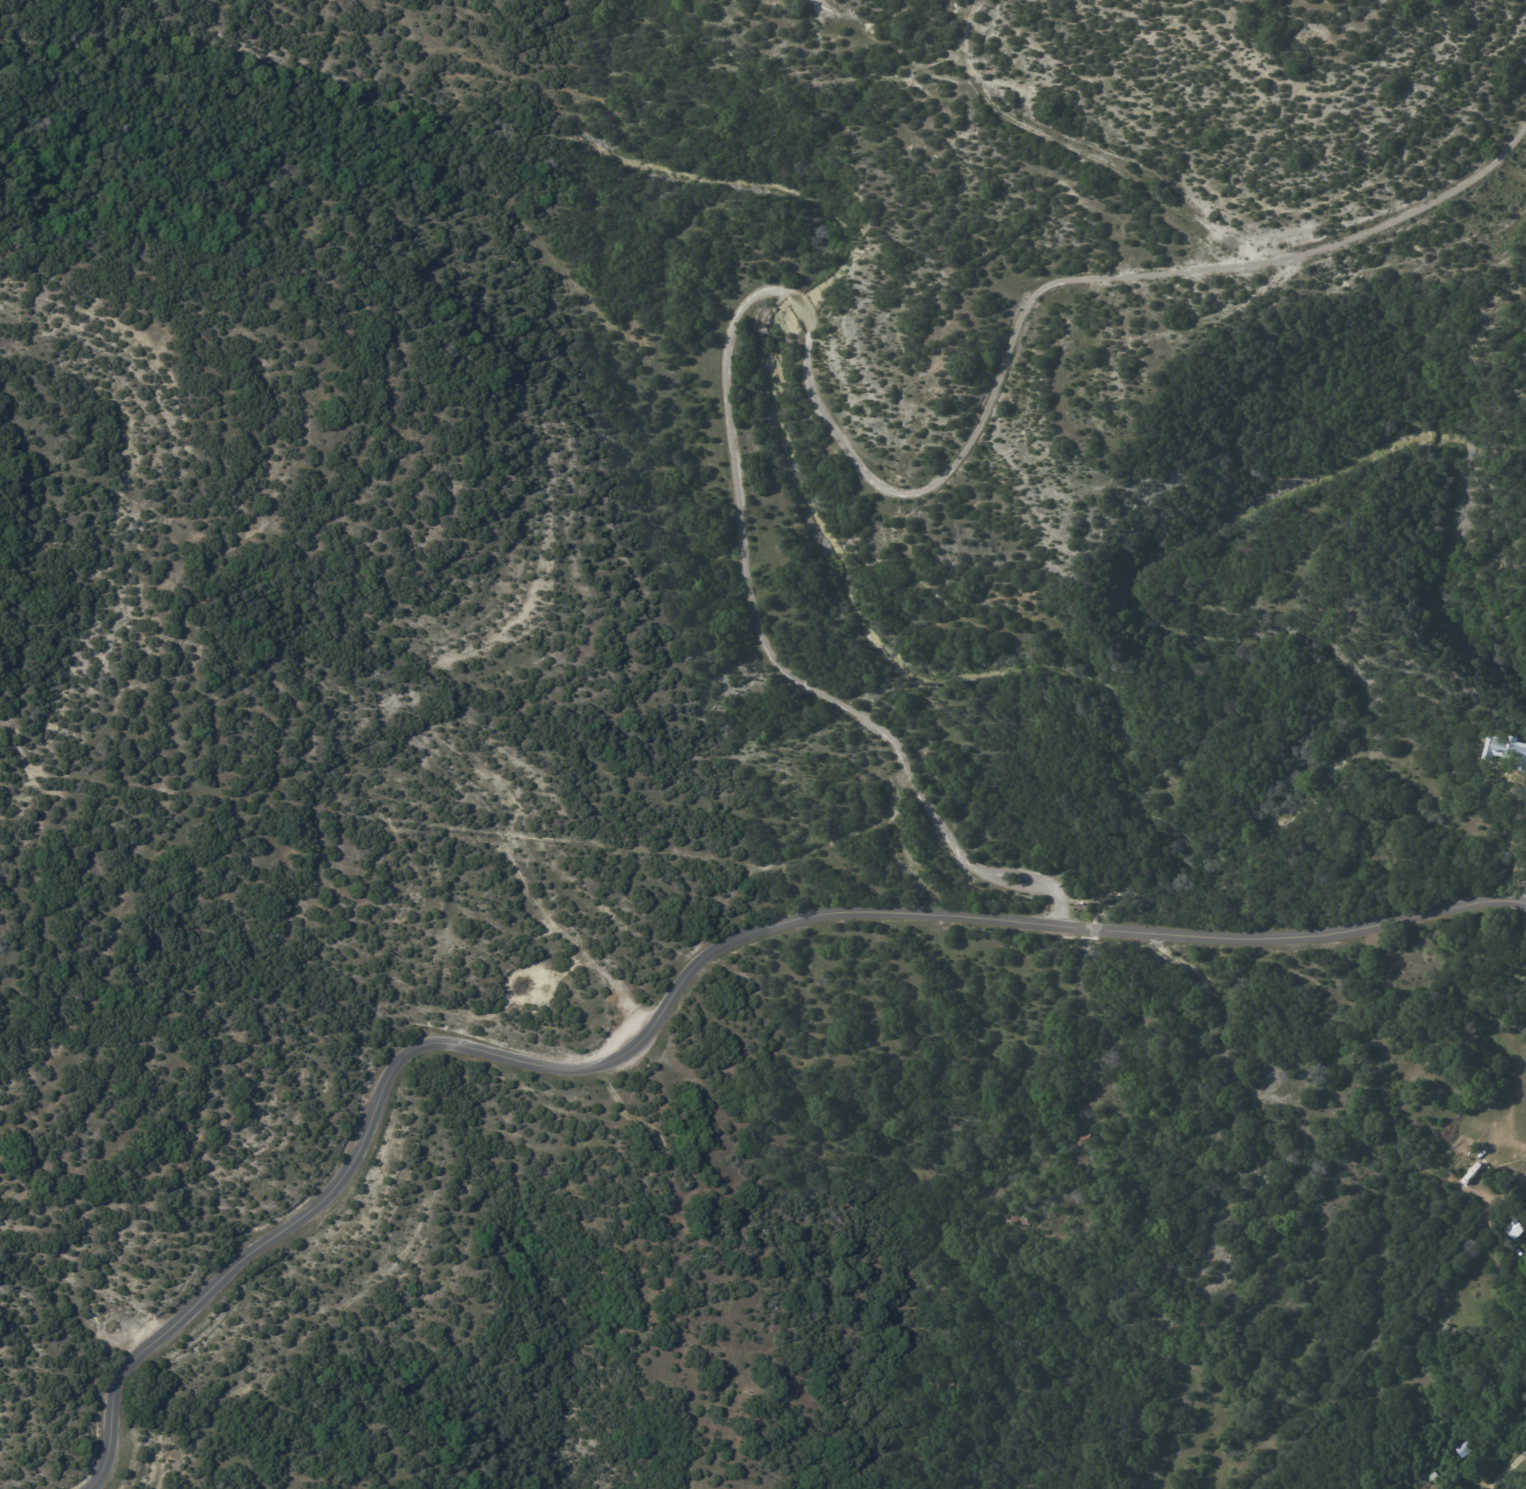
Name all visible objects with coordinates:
road: (809, 391)
building: (1506, 751)
road: (1514, 850)
road: (679, 986)
building: (1300, 1076)
building: (1085, 1138)
road: (1506, 1190)
building: (1514, 1229)
building: (1462, 1449)
road: (1506, 1467)
building: (1428, 1472)
road: (1486, 1488)

